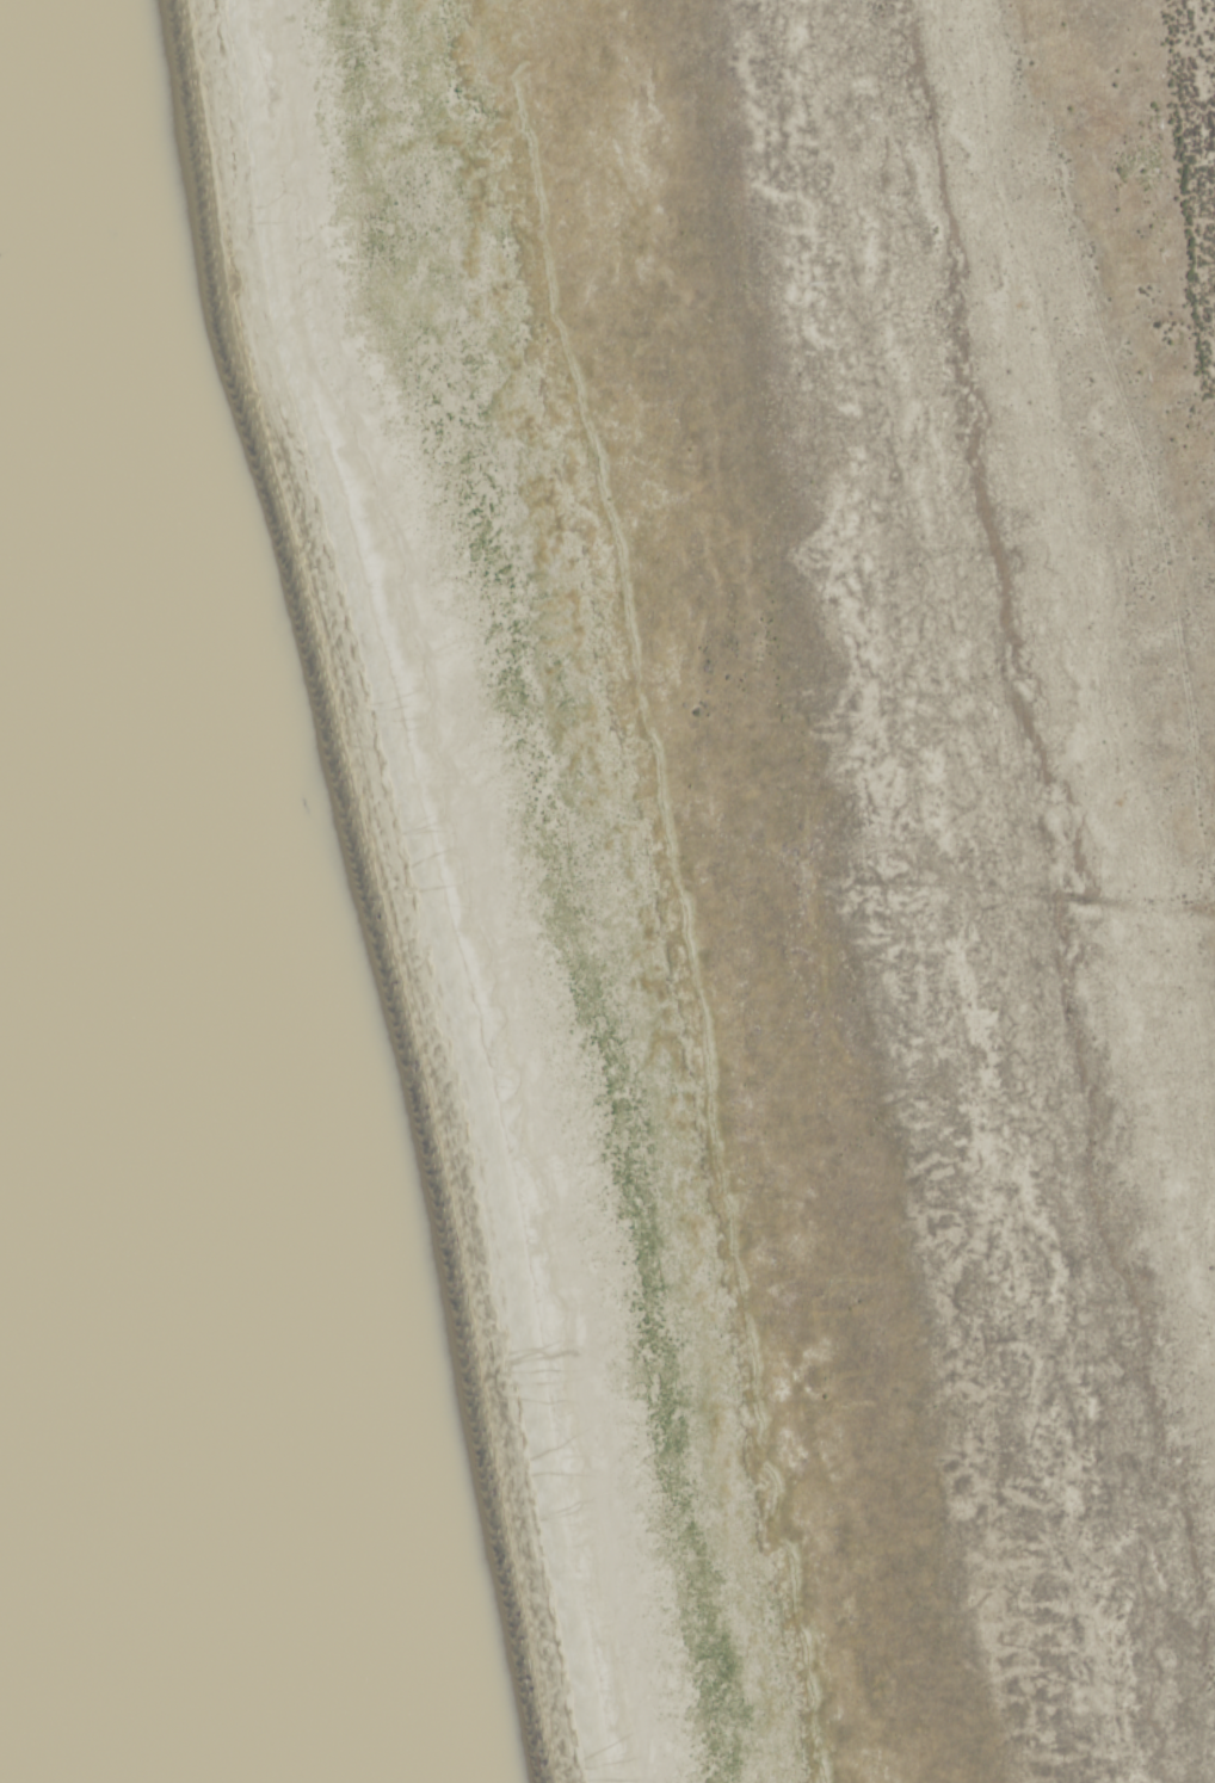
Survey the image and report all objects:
road: (943, 893)

